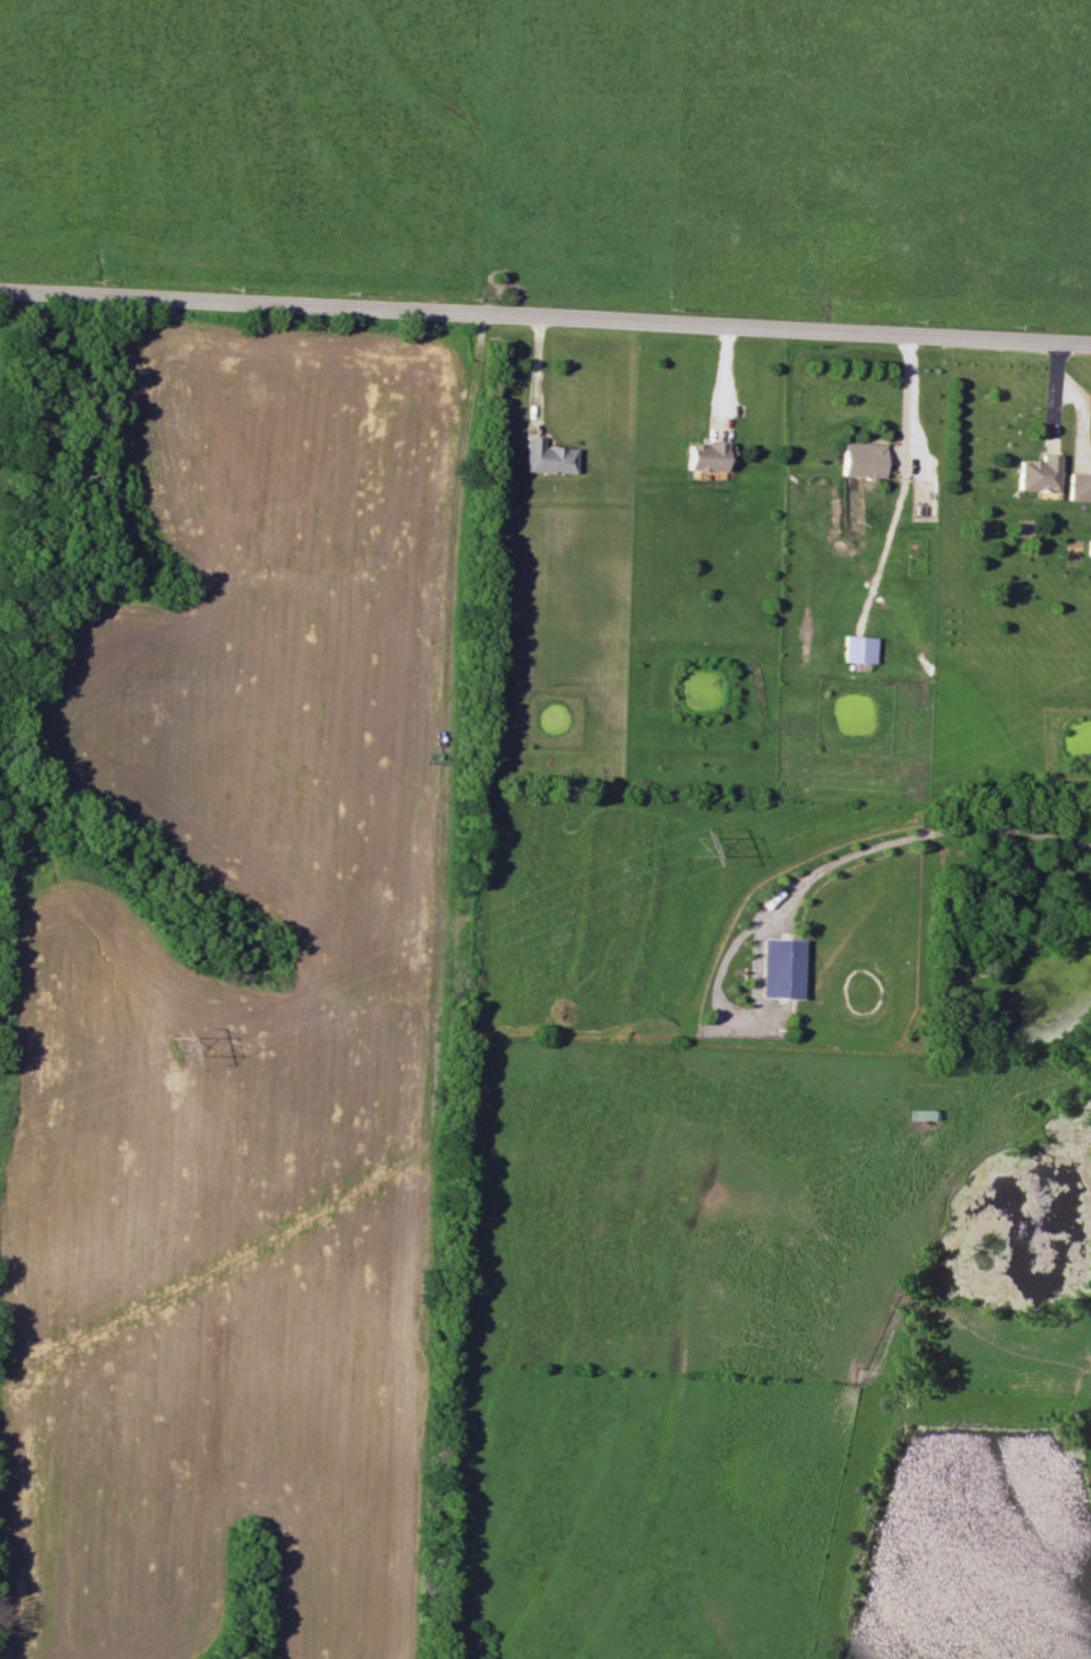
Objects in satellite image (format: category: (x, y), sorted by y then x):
road: (545, 316)
road: (727, 381)
road: (907, 392)
building: (708, 455)
building: (547, 456)
building: (863, 459)
building: (1039, 472)
building: (1080, 487)
building: (1090, 548)
building: (858, 649)
road: (920, 834)
power tower: (692, 843)
building: (779, 968)
power tower: (177, 1042)

